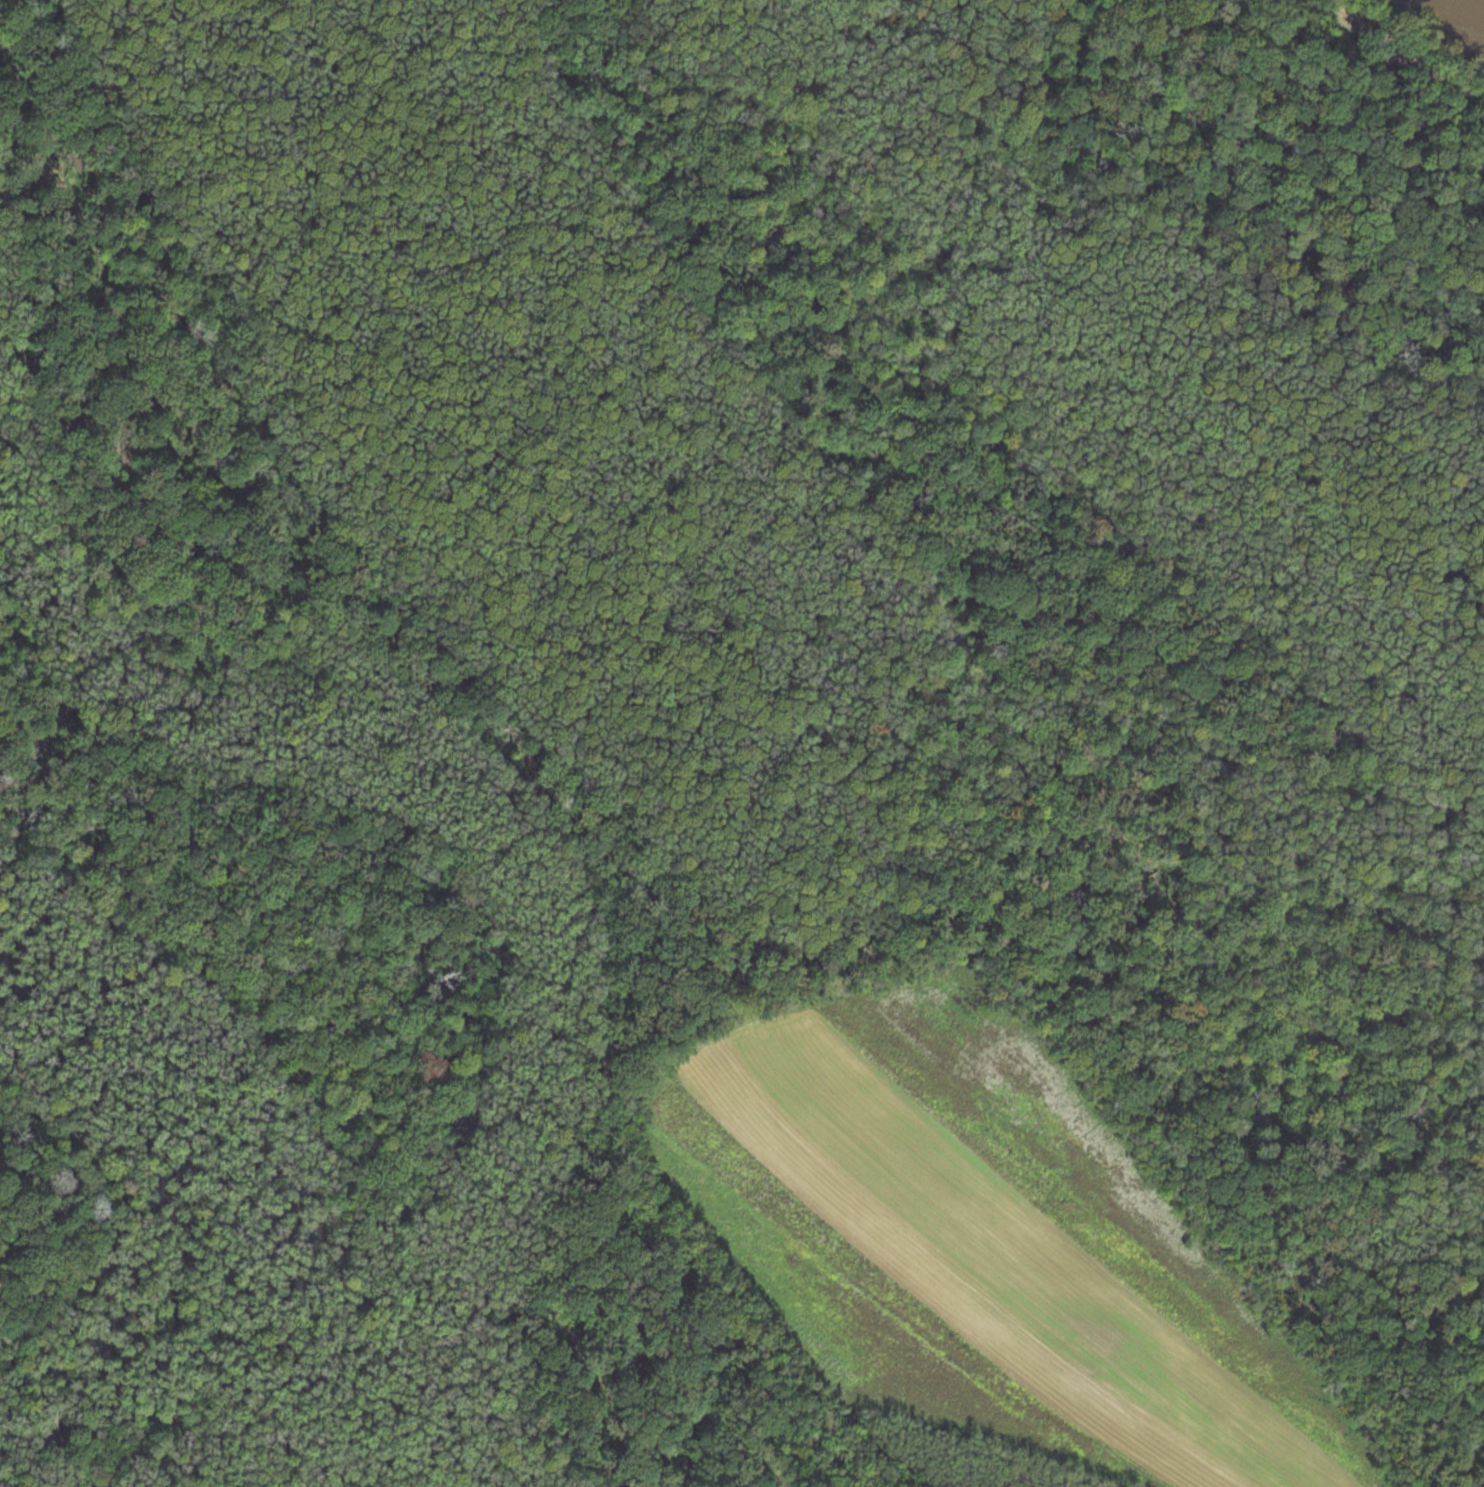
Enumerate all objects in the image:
road: (1395, 61)

